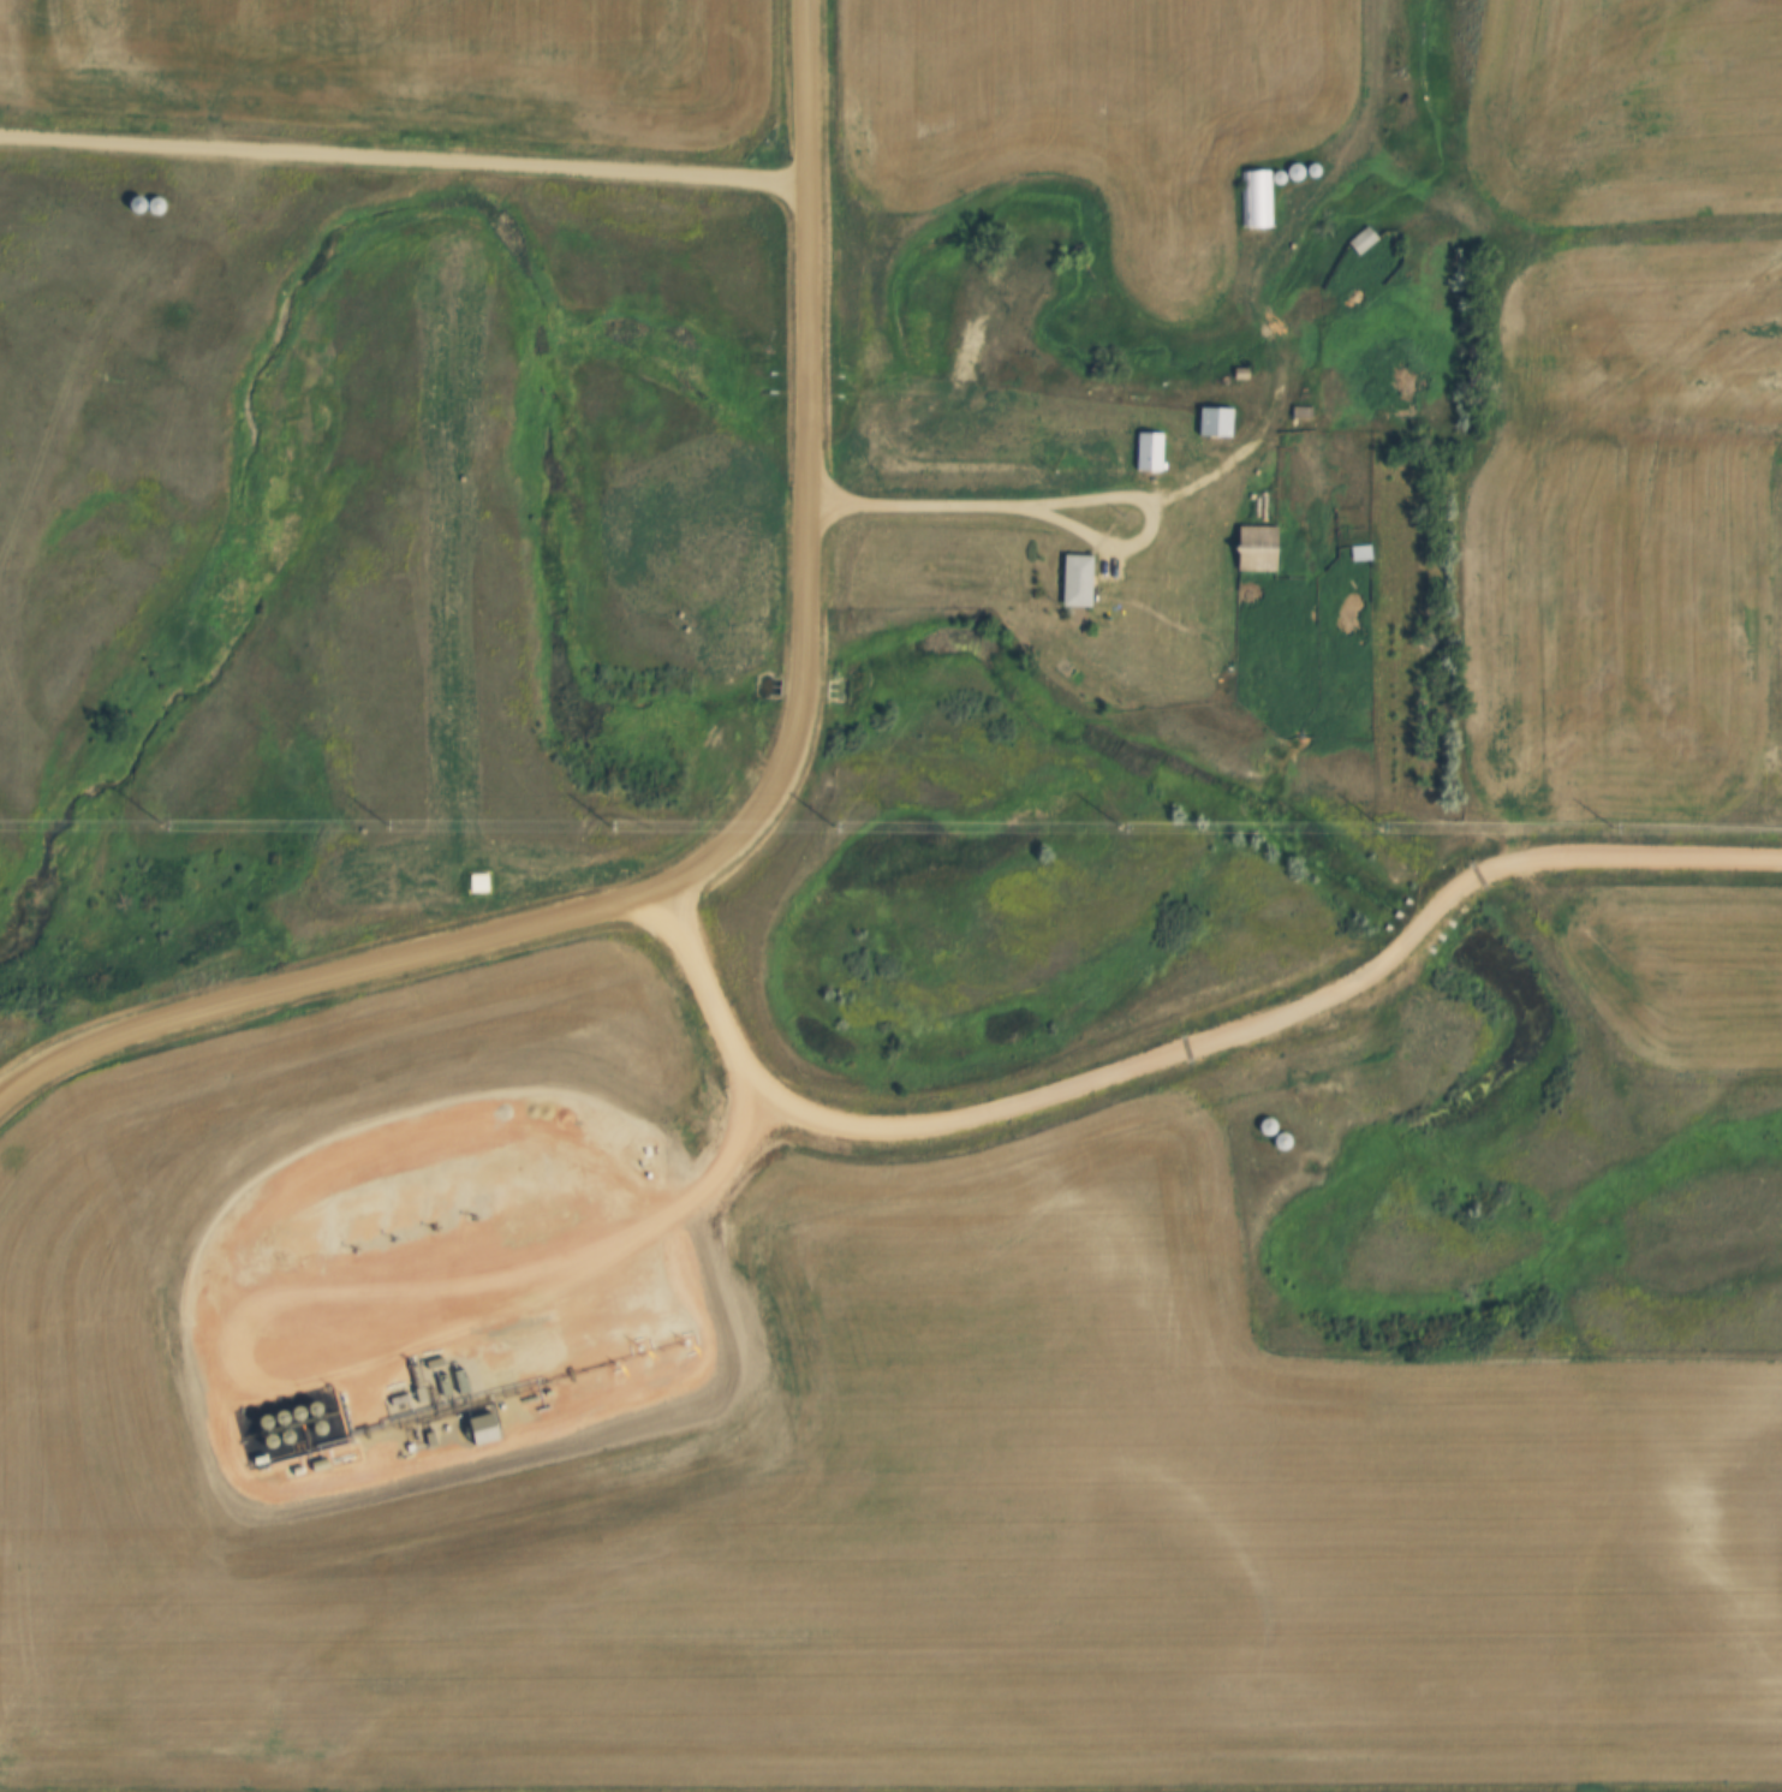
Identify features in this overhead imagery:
road: (404, 159)
building: (1253, 198)
building: (1358, 240)
road: (1270, 272)
building: (1210, 422)
building: (1145, 452)
road: (1061, 506)
building: (1250, 547)
building: (1357, 553)
building: (1072, 581)
road: (761, 815)
building: (1262, 1125)
building: (1275, 1138)

